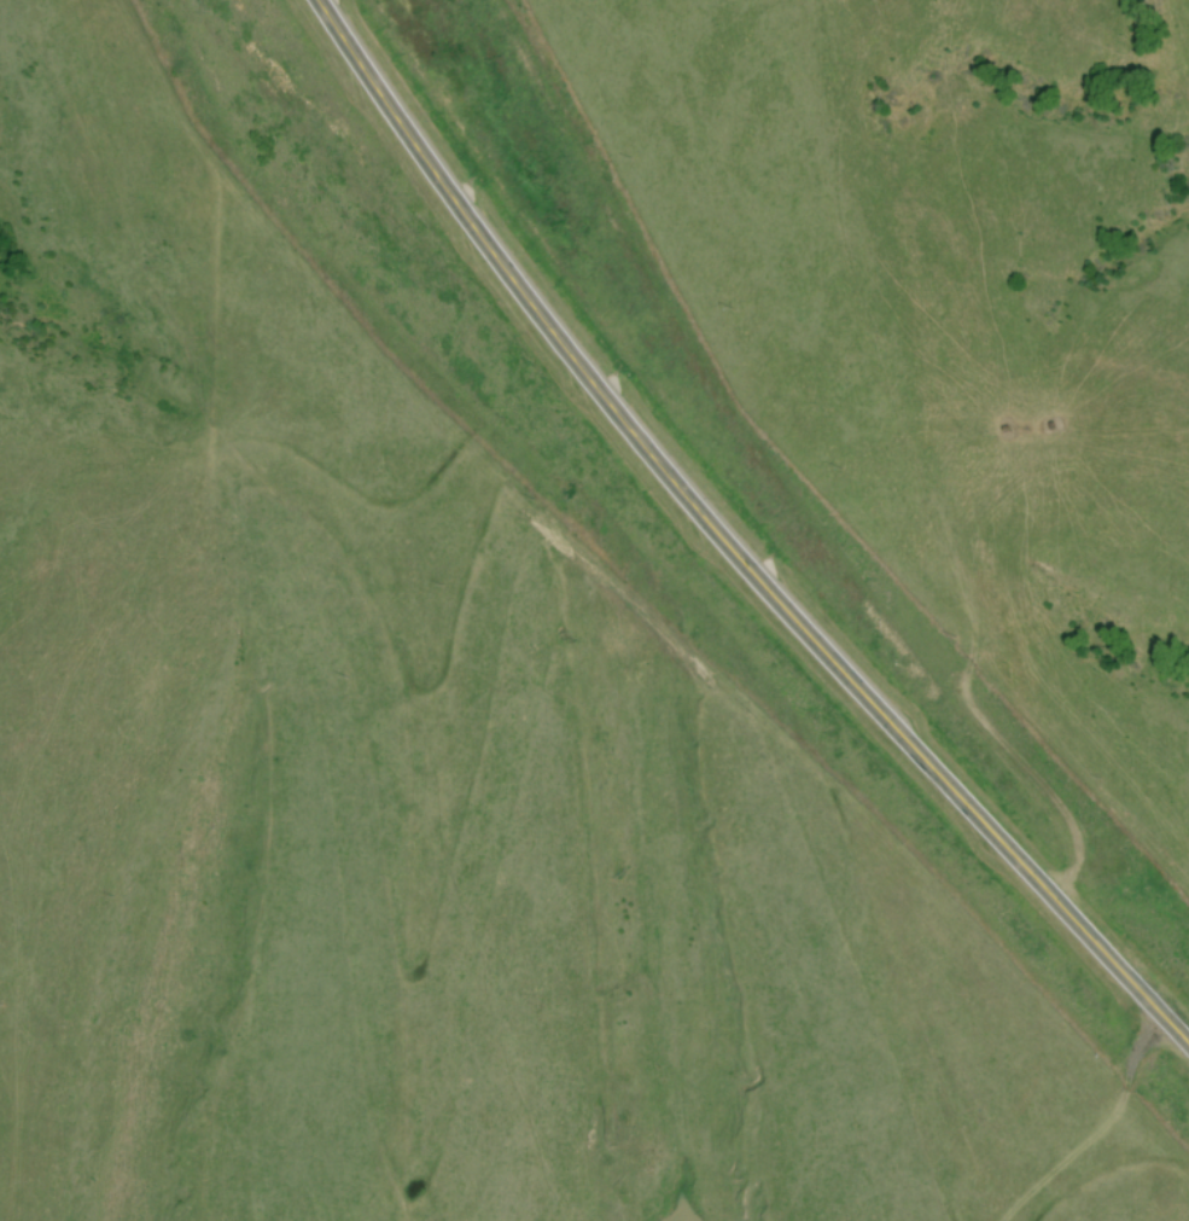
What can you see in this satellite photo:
road: (721, 546)

